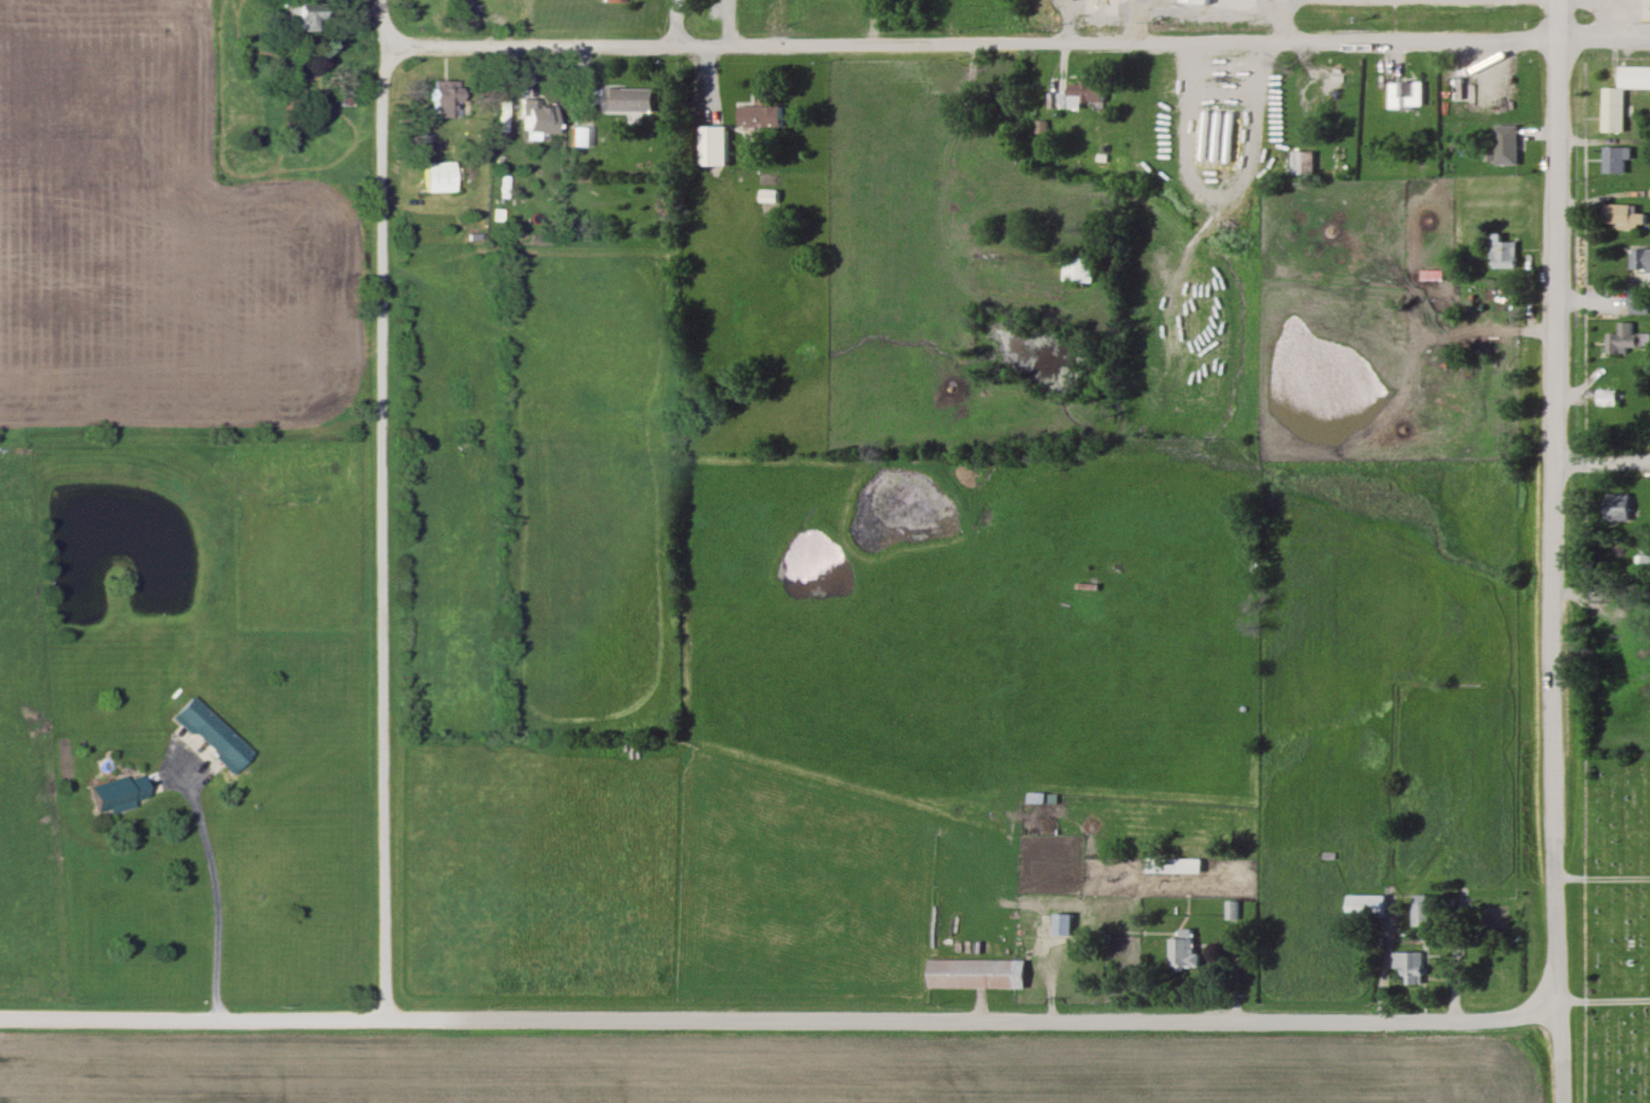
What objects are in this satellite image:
building: (611, 1)
building: (1196, 1)
building: (301, 16)
road: (1552, 17)
road: (1279, 20)
road: (672, 21)
road: (377, 27)
road: (1160, 41)
road: (525, 43)
road: (673, 68)
road: (379, 75)
building: (526, 86)
building: (1457, 89)
building: (1083, 93)
building: (1402, 94)
building: (1620, 96)
building: (629, 99)
building: (444, 101)
building: (757, 112)
building: (500, 116)
building: (537, 118)
building: (1215, 136)
building: (711, 144)
building: (1502, 145)
building: (1612, 160)
building: (1299, 164)
building: (437, 180)
building: (1624, 217)
building: (1499, 251)
building: (1638, 261)
building: (1077, 269)
building: (1634, 302)
building: (1624, 339)
building: (1602, 398)
road: (1599, 464)
building: (1615, 507)
road: (1547, 521)
road: (380, 557)
building: (1642, 558)
building: (1080, 588)
building: (219, 743)
building: (117, 794)
building: (1173, 863)
road: (1600, 877)
road: (212, 896)
building: (1367, 907)
building: (1231, 909)
building: (1419, 911)
building: (1061, 923)
park: (1608, 927)
building: (1183, 948)
building: (1408, 966)
building: (974, 972)
road: (1599, 1004)
road: (774, 1018)
road: (1551, 1054)

